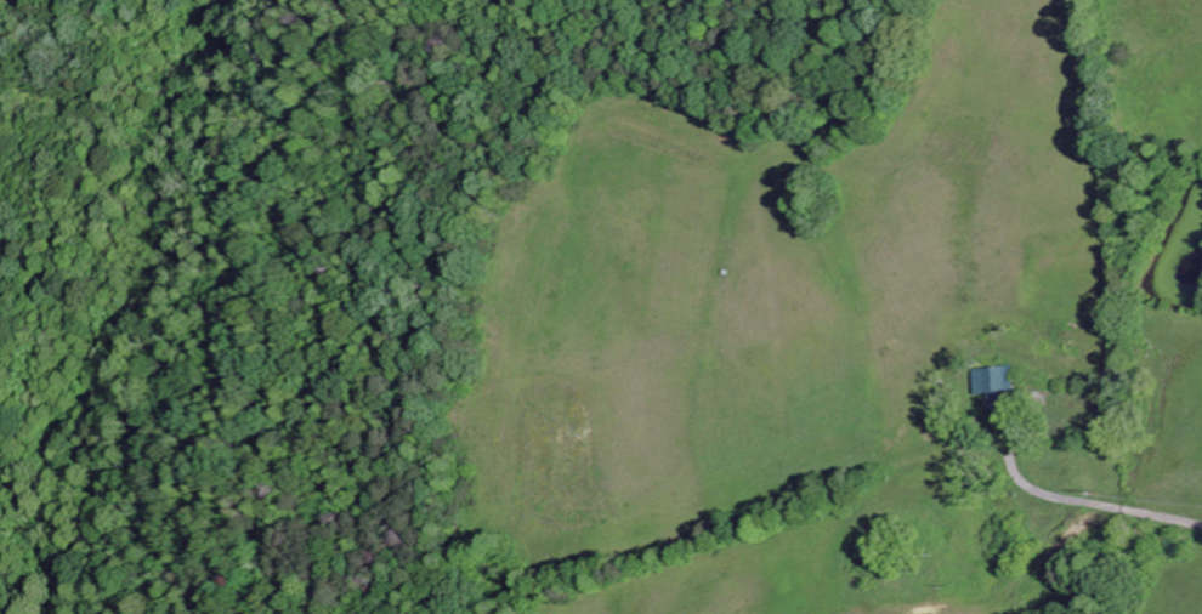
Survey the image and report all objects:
road: (1101, 505)

